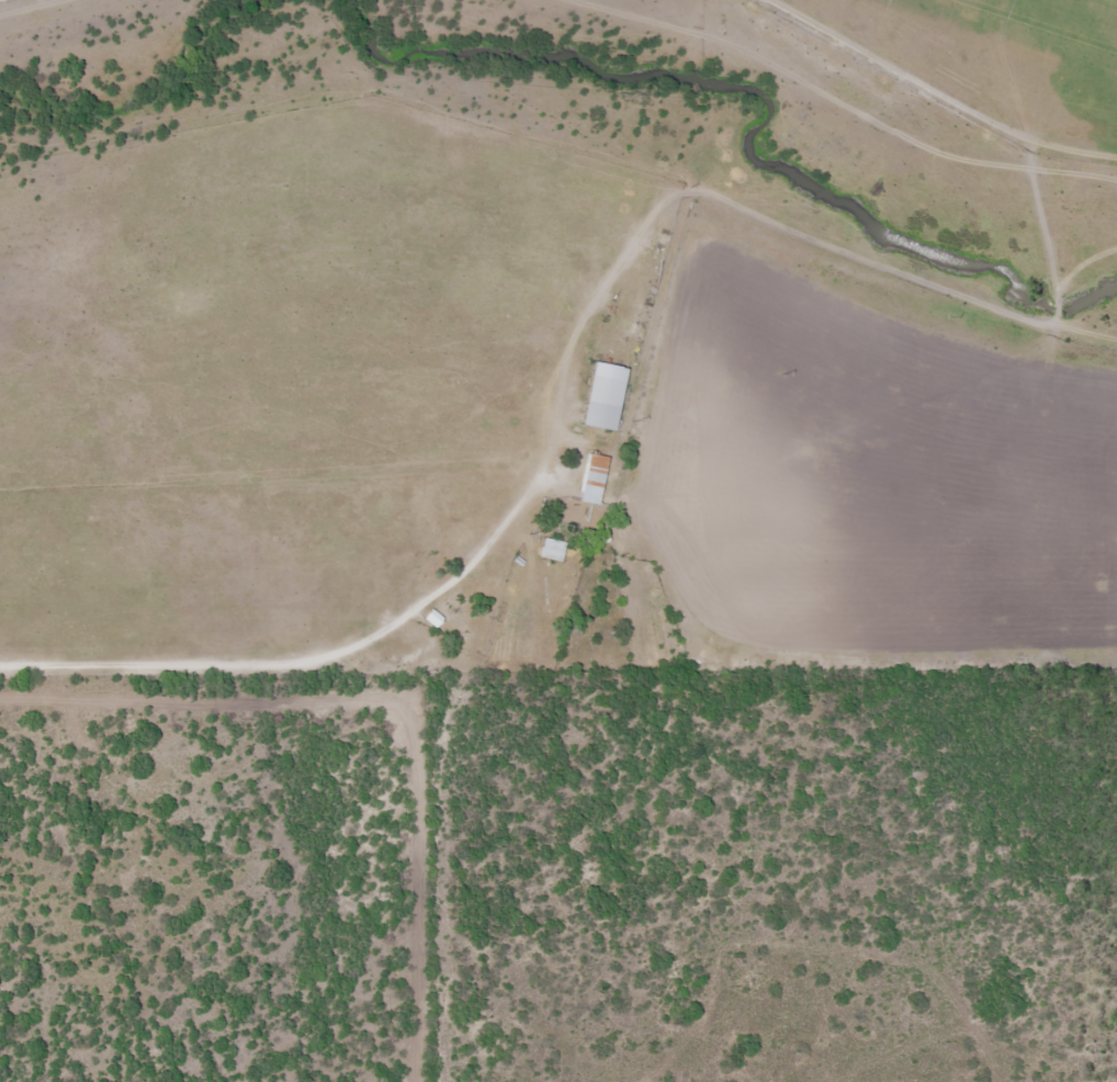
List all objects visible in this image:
building: (600, 394)
building: (591, 477)
building: (550, 548)
building: (427, 617)
road: (314, 660)

